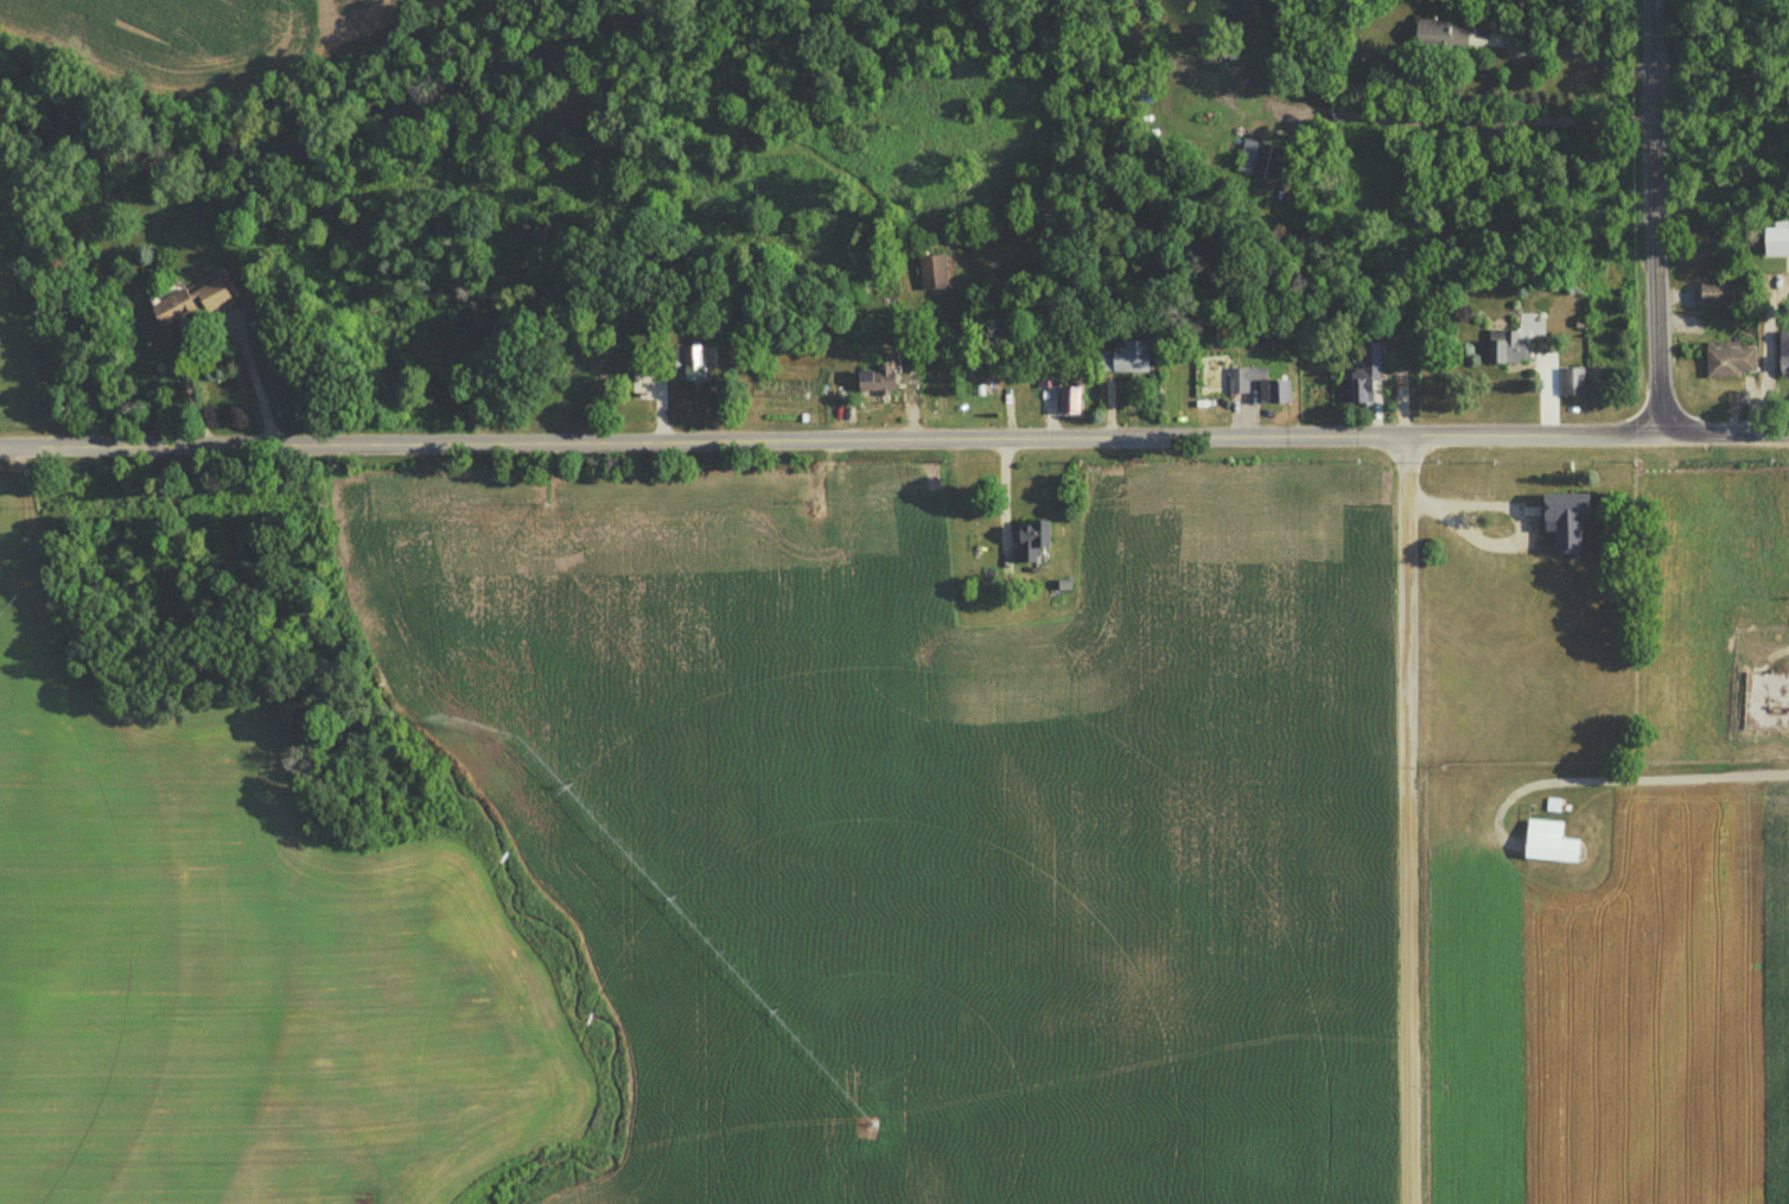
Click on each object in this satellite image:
building: (1439, 34)
road: (1587, 70)
river: (357, 98)
road: (1471, 115)
building: (1258, 160)
road: (1657, 217)
building: (1776, 238)
building: (931, 273)
building: (1719, 297)
building: (182, 304)
building: (717, 326)
building: (1514, 340)
road: (1765, 355)
building: (1783, 355)
building: (1121, 359)
building: (1728, 362)
building: (687, 365)
building: (1365, 375)
road: (250, 376)
building: (883, 377)
building: (1044, 380)
building: (1570, 383)
building: (1256, 386)
building: (1067, 401)
road: (894, 440)
building: (1561, 523)
building: (1030, 541)
road: (1655, 779)
road: (1406, 818)
building: (1546, 841)

